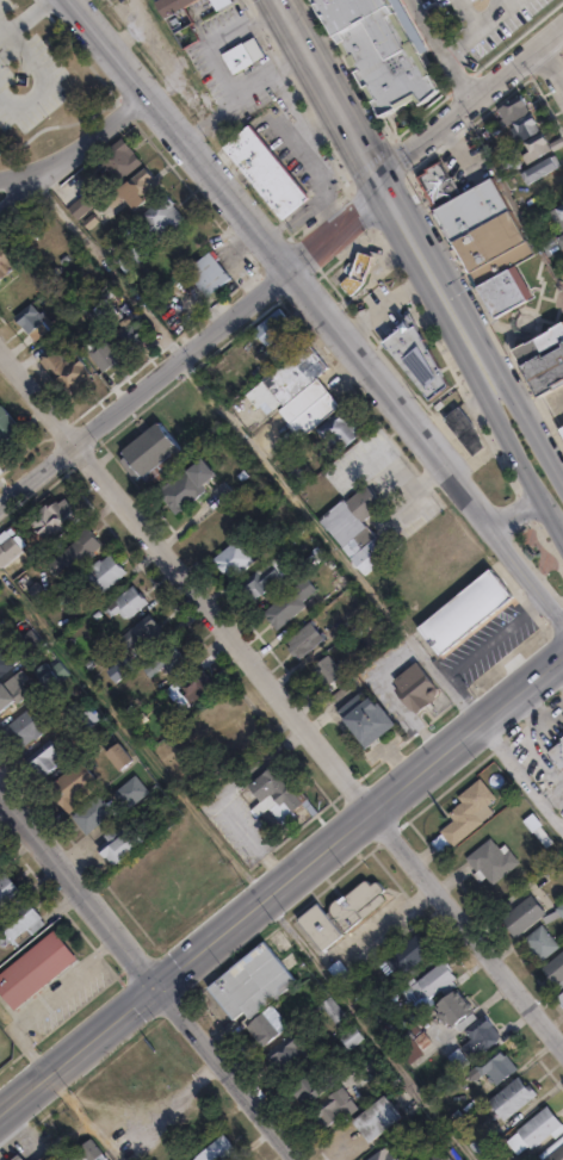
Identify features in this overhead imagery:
building: (221, 2)
building: (181, 19)
road: (453, 45)
road: (555, 49)
building: (229, 50)
building: (385, 54)
building: (243, 55)
road: (454, 76)
park: (44, 82)
road: (469, 99)
building: (525, 125)
road: (79, 147)
building: (537, 147)
building: (111, 149)
building: (253, 161)
building: (540, 169)
building: (130, 179)
building: (141, 187)
road: (19, 191)
building: (72, 196)
building: (150, 209)
building: (558, 216)
road: (336, 228)
building: (482, 232)
building: (561, 238)
building: (4, 246)
road: (420, 253)
building: (190, 259)
building: (357, 272)
building: (16, 275)
road: (317, 305)
building: (18, 308)
building: (107, 309)
building: (31, 316)
building: (118, 324)
building: (276, 328)
building: (130, 337)
building: (107, 355)
building: (544, 358)
building: (412, 359)
building: (72, 370)
road: (144, 386)
building: (304, 391)
building: (562, 424)
building: (8, 426)
building: (468, 432)
building: (338, 434)
building: (155, 455)
building: (303, 474)
building: (191, 486)
building: (322, 505)
road: (526, 511)
building: (58, 523)
building: (361, 531)
building: (10, 554)
building: (76, 556)
building: (241, 557)
building: (104, 577)
building: (266, 578)
building: (326, 590)
building: (291, 604)
building: (128, 606)
building: (468, 613)
building: (146, 633)
building: (309, 640)
building: (23, 645)
road: (477, 652)
building: (168, 665)
building: (2, 666)
building: (329, 671)
building: (123, 672)
building: (198, 689)
building: (8, 690)
building: (425, 691)
road: (281, 695)
building: (161, 713)
building: (370, 718)
building: (26, 725)
building: (557, 755)
building: (120, 758)
building: (47, 761)
road: (521, 778)
building: (79, 782)
building: (270, 790)
building: (134, 794)
building: (93, 817)
building: (463, 818)
building: (533, 831)
building: (119, 846)
building: (1, 861)
building: (488, 863)
road: (280, 887)
building: (12, 892)
building: (352, 906)
building: (521, 913)
building: (21, 922)
building: (317, 931)
building: (539, 939)
building: (406, 957)
building: (555, 967)
building: (33, 969)
road: (148, 974)
building: (336, 974)
building: (252, 982)
building: (431, 982)
building: (352, 995)
building: (559, 995)
road: (44, 999)
building: (330, 1011)
building: (450, 1011)
building: (267, 1024)
building: (481, 1035)
building: (352, 1036)
building: (338, 1037)
building: (5, 1052)
building: (290, 1059)
building: (460, 1063)
building: (494, 1072)
building: (371, 1074)
building: (309, 1093)
building: (513, 1103)
building: (336, 1116)
building: (376, 1128)
building: (540, 1131)
building: (216, 1152)
building: (85, 1153)
building: (440, 1155)
building: (558, 1156)
building: (14, 1159)
building: (42, 1159)
building: (392, 1159)

